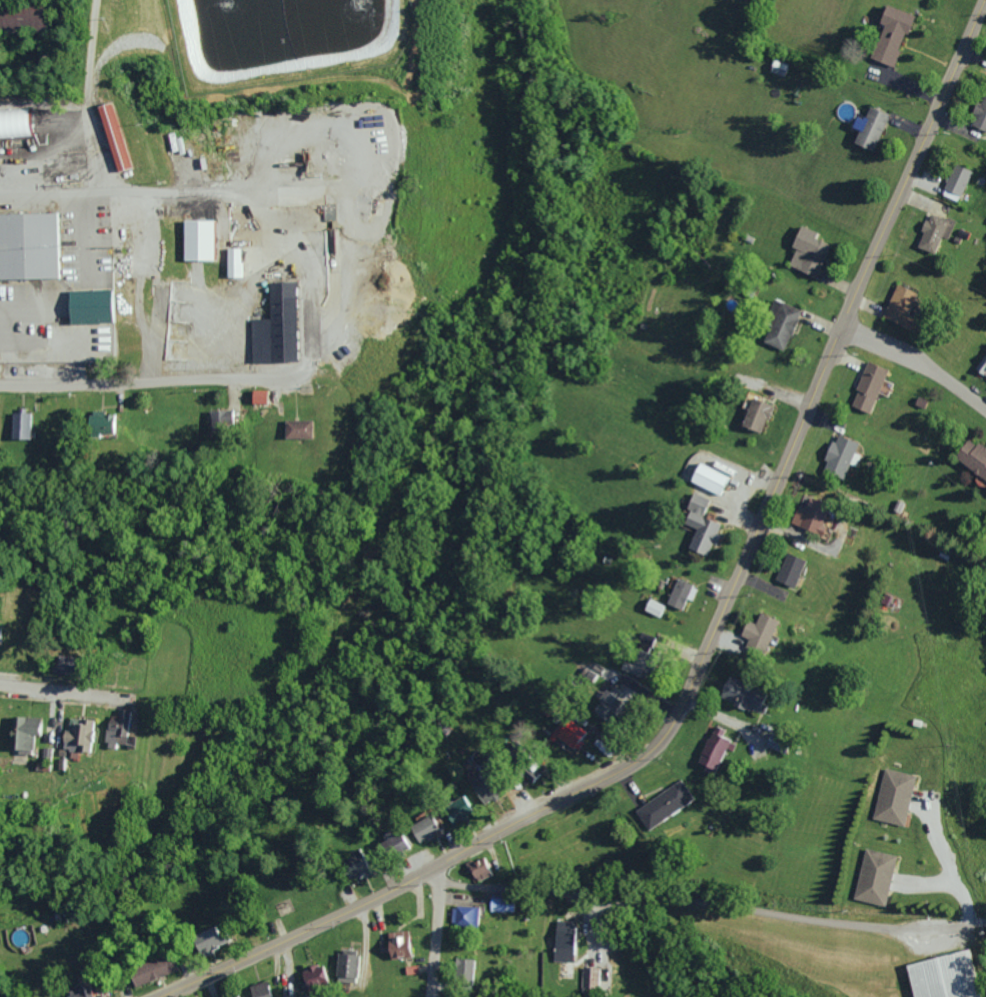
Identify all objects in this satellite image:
building: (889, 34)
wastewater plant: (287, 39)
building: (777, 67)
building: (980, 114)
building: (869, 127)
building: (115, 135)
building: (954, 182)
road: (50, 197)
building: (932, 231)
building: (205, 239)
building: (27, 244)
building: (806, 251)
building: (233, 263)
building: (898, 304)
building: (91, 305)
building: (778, 324)
building: (282, 326)
road: (917, 360)
building: (982, 366)
road: (148, 377)
building: (866, 387)
building: (258, 396)
building: (754, 413)
building: (220, 416)
building: (100, 422)
building: (18, 425)
building: (296, 428)
building: (838, 456)
building: (971, 458)
building: (708, 478)
building: (809, 518)
building: (699, 525)
building: (788, 569)
building: (679, 593)
building: (653, 607)
road: (713, 629)
building: (757, 633)
building: (629, 668)
building: (588, 673)
road: (58, 690)
building: (739, 694)
building: (605, 706)
building: (117, 729)
building: (23, 733)
building: (568, 733)
building: (80, 737)
building: (711, 748)
building: (528, 771)
building: (893, 796)
building: (662, 804)
building: (454, 809)
building: (422, 829)
building: (395, 845)
building: (352, 865)
building: (479, 868)
building: (872, 876)
road: (654, 899)
building: (501, 904)
road: (967, 907)
building: (464, 915)
road: (432, 929)
building: (206, 939)
building: (564, 940)
building: (398, 944)
building: (345, 965)
building: (151, 970)
building: (463, 970)
building: (311, 976)
building: (590, 976)
building: (940, 976)
building: (260, 989)
building: (77, 993)
building: (232, 995)
building: (291, 996)

